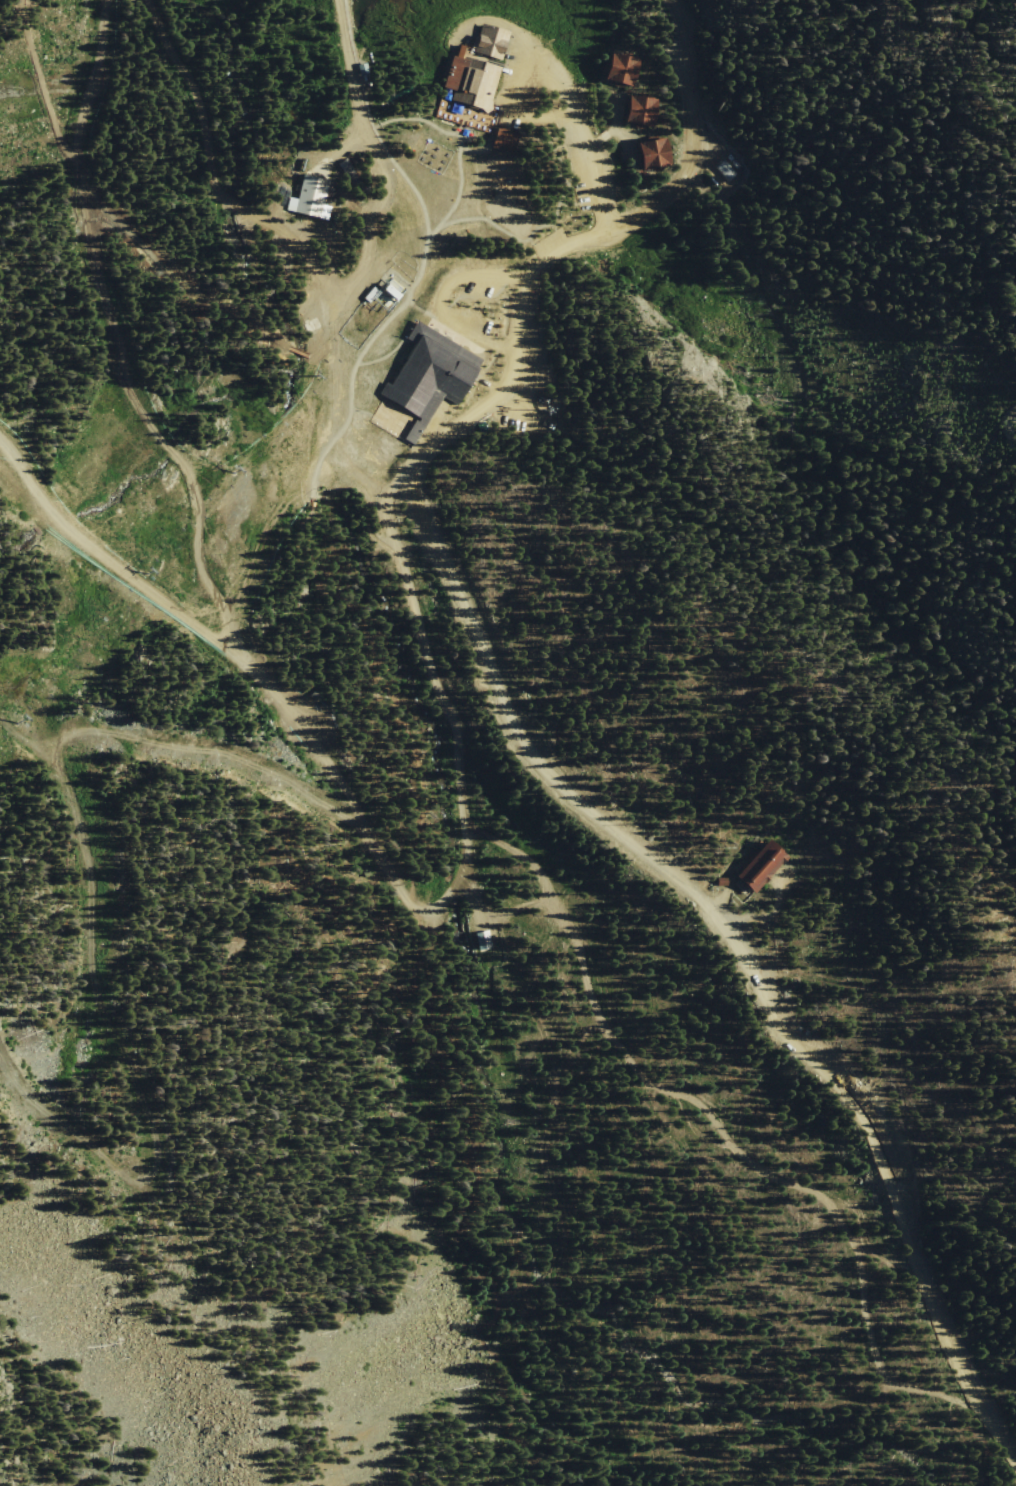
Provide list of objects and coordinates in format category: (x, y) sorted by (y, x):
building: (492, 42)
building: (623, 70)
road: (42, 87)
building: (477, 89)
building: (641, 111)
road: (576, 124)
road: (459, 145)
building: (655, 154)
building: (348, 168)
building: (725, 170)
building: (713, 181)
storage tank: (713, 181)
road: (413, 190)
building: (312, 197)
parking lot: (510, 216)
road: (471, 218)
road: (570, 244)
road: (200, 291)
building: (388, 291)
road: (118, 339)
building: (432, 371)
aerialway pylon: (320, 372)
aerialway pylon: (234, 470)
road: (393, 488)
building: (310, 503)
road: (121, 569)
aerialway pylon: (146, 569)
road: (242, 575)
road: (413, 600)
building: (311, 696)
aerialway pylon: (16, 718)
road: (30, 736)
road: (81, 824)
building: (759, 865)
building: (365, 872)
building: (720, 881)
ski resort: (234, 887)
road: (420, 905)
building: (481, 938)
road: (739, 942)
road: (744, 1156)
road: (323, 1301)
road: (566, 1418)

